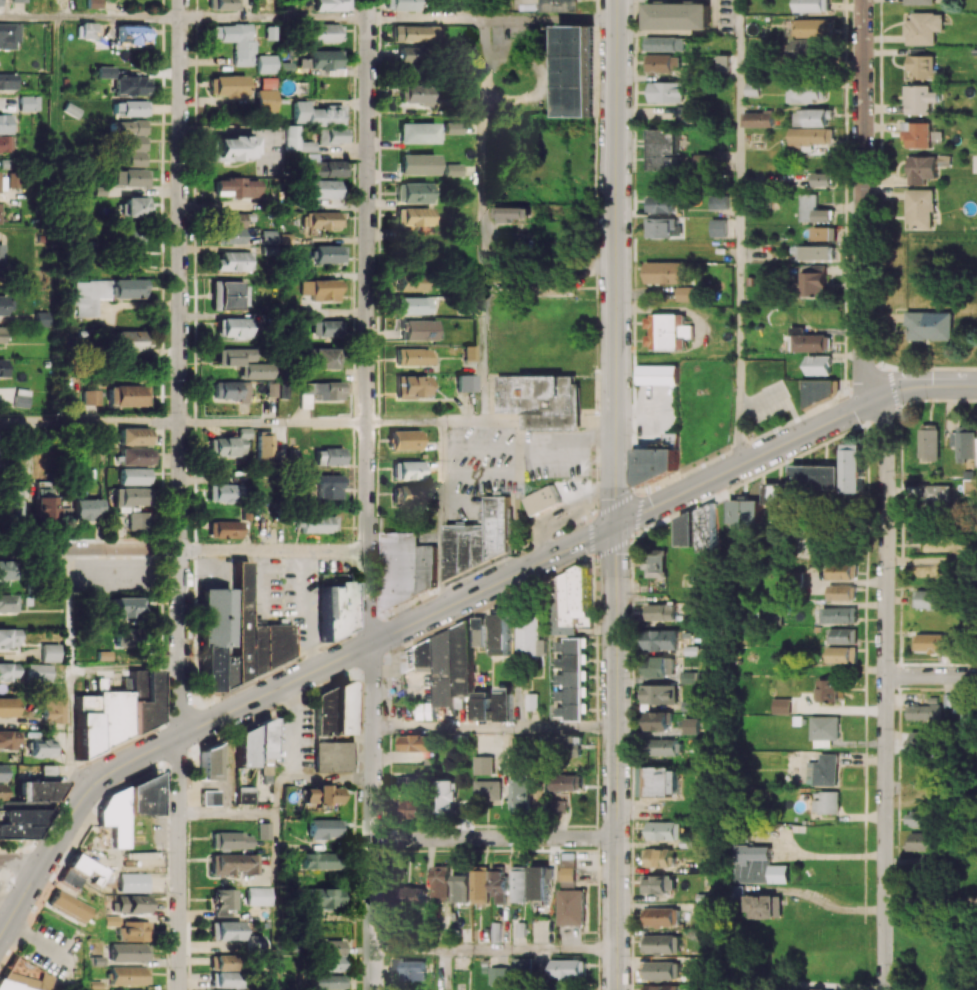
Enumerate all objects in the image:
building: (19, 1)
building: (920, 1)
building: (560, 3)
building: (93, 4)
building: (223, 4)
building: (332, 5)
building: (400, 5)
building: (814, 5)
building: (676, 15)
road: (29, 18)
road: (120, 19)
road: (276, 19)
road: (427, 20)
road: (551, 20)
building: (816, 26)
building: (924, 28)
building: (325, 32)
building: (414, 33)
building: (133, 34)
building: (9, 35)
building: (236, 41)
building: (663, 43)
building: (811, 49)
building: (411, 54)
building: (326, 59)
building: (661, 62)
building: (722, 62)
building: (265, 63)
building: (923, 67)
building: (575, 70)
building: (104, 71)
building: (8, 81)
building: (130, 85)
building: (228, 86)
building: (752, 89)
building: (665, 91)
building: (808, 91)
building: (267, 94)
building: (920, 99)
building: (30, 102)
building: (128, 108)
building: (318, 114)
building: (685, 114)
building: (813, 117)
building: (758, 119)
building: (6, 123)
building: (127, 127)
building: (454, 127)
building: (418, 133)
building: (918, 134)
building: (812, 135)
building: (333, 136)
building: (296, 140)
building: (6, 143)
building: (233, 148)
building: (662, 149)
building: (134, 150)
building: (418, 164)
building: (328, 168)
building: (453, 169)
building: (922, 169)
building: (129, 177)
building: (14, 179)
building: (823, 179)
building: (236, 187)
building: (323, 188)
building: (412, 192)
road: (863, 200)
building: (718, 202)
building: (660, 203)
building: (136, 206)
building: (920, 208)
building: (812, 210)
building: (0, 212)
building: (511, 214)
building: (414, 216)
building: (322, 219)
road: (58, 220)
building: (232, 220)
road: (485, 220)
building: (662, 227)
building: (718, 227)
road: (737, 233)
building: (821, 233)
building: (229, 236)
building: (266, 237)
building: (132, 244)
building: (813, 252)
building: (1, 253)
building: (327, 254)
building: (232, 261)
road: (616, 263)
building: (664, 273)
road: (633, 279)
building: (813, 280)
building: (413, 282)
building: (318, 289)
road: (596, 290)
building: (104, 293)
building: (686, 293)
building: (228, 295)
building: (7, 304)
building: (411, 305)
building: (44, 318)
road: (368, 322)
building: (931, 324)
building: (231, 327)
building: (324, 328)
building: (419, 330)
building: (667, 330)
building: (1, 334)
building: (133, 340)
building: (812, 342)
building: (469, 353)
building: (232, 356)
building: (413, 357)
building: (316, 358)
building: (819, 365)
building: (2, 367)
road: (181, 367)
building: (254, 371)
building: (657, 374)
building: (464, 383)
building: (410, 386)
road: (890, 387)
building: (274, 389)
building: (822, 389)
building: (229, 390)
building: (316, 392)
building: (129, 395)
building: (24, 397)
building: (92, 397)
traffic signals: (874, 398)
building: (541, 400)
parking lot: (654, 412)
road: (426, 421)
road: (184, 422)
building: (134, 436)
building: (405, 439)
road: (792, 440)
building: (930, 442)
building: (965, 442)
building: (263, 444)
building: (228, 445)
building: (136, 456)
building: (325, 456)
building: (657, 458)
parking lot: (498, 461)
building: (852, 468)
building: (407, 470)
building: (134, 476)
building: (816, 477)
building: (324, 487)
building: (226, 492)
building: (776, 493)
building: (404, 495)
building: (131, 496)
road: (638, 496)
building: (939, 496)
building: (541, 499)
road: (703, 499)
road: (617, 504)
building: (15, 506)
building: (45, 509)
building: (89, 509)
building: (68, 510)
building: (744, 512)
road: (442, 514)
road: (567, 516)
road: (593, 516)
road: (636, 516)
building: (138, 521)
building: (318, 524)
traffic signals: (616, 526)
building: (225, 529)
building: (705, 529)
building: (687, 530)
road: (594, 536)
building: (479, 538)
road: (613, 544)
road: (184, 549)
road: (597, 552)
building: (654, 562)
building: (407, 567)
building: (6, 570)
building: (840, 570)
road: (479, 572)
building: (841, 591)
building: (932, 598)
building: (8, 603)
road: (69, 607)
building: (126, 607)
road: (485, 608)
building: (335, 609)
road: (309, 610)
building: (661, 611)
road: (596, 613)
building: (839, 614)
building: (502, 630)
building: (237, 635)
building: (842, 635)
building: (123, 637)
building: (531, 637)
building: (8, 638)
building: (662, 639)
building: (933, 641)
building: (571, 643)
building: (51, 652)
building: (843, 654)
building: (448, 661)
road: (125, 666)
building: (9, 671)
building: (40, 672)
road: (931, 675)
building: (136, 685)
road: (273, 690)
building: (827, 690)
road: (885, 692)
building: (658, 694)
road: (293, 696)
building: (532, 701)
building: (504, 703)
building: (482, 705)
building: (781, 705)
building: (8, 707)
building: (52, 709)
building: (331, 711)
building: (425, 711)
building: (923, 711)
building: (114, 714)
building: (657, 720)
building: (968, 720)
building: (691, 725)
building: (824, 727)
road: (495, 728)
road: (70, 732)
building: (922, 737)
building: (9, 739)
building: (415, 742)
building: (252, 743)
road: (296, 745)
building: (570, 745)
building: (664, 746)
building: (42, 747)
building: (332, 756)
road: (616, 757)
building: (209, 762)
building: (484, 765)
building: (823, 770)
building: (2, 772)
road: (335, 779)
building: (414, 780)
building: (569, 781)
building: (658, 781)
building: (488, 790)
building: (37, 791)
building: (245, 794)
building: (522, 794)
building: (319, 795)
building: (445, 796)
building: (210, 797)
building: (826, 802)
building: (561, 805)
building: (127, 806)
building: (413, 808)
road: (229, 815)
road: (374, 816)
building: (918, 818)
building: (323, 828)
building: (264, 830)
building: (665, 830)
road: (495, 838)
building: (230, 840)
building: (920, 841)
building: (687, 842)
building: (749, 853)
road: (825, 855)
building: (658, 857)
building: (140, 858)
building: (318, 860)
road: (19, 861)
road: (181, 862)
building: (233, 863)
building: (86, 868)
building: (568, 869)
building: (777, 873)
road: (276, 874)
building: (70, 878)
building: (133, 882)
building: (442, 882)
building: (500, 882)
building: (540, 882)
building: (658, 883)
building: (480, 884)
building: (520, 884)
building: (461, 887)
building: (733, 892)
building: (258, 895)
building: (415, 896)
building: (321, 897)
building: (224, 901)
road: (930, 902)
building: (133, 903)
road: (825, 903)
building: (69, 905)
building: (571, 906)
building: (761, 906)
building: (702, 908)
road: (6, 911)
building: (662, 916)
building: (129, 928)
building: (226, 930)
building: (501, 932)
building: (661, 943)
road: (495, 950)
building: (129, 952)
building: (329, 954)
building: (223, 962)
building: (397, 964)
building: (524, 966)
building: (569, 968)
building: (663, 969)
building: (414, 970)
building: (129, 975)
building: (499, 975)
building: (227, 979)
building: (328, 982)
building: (660, 987)
building: (134, 989)
building: (822, 989)

